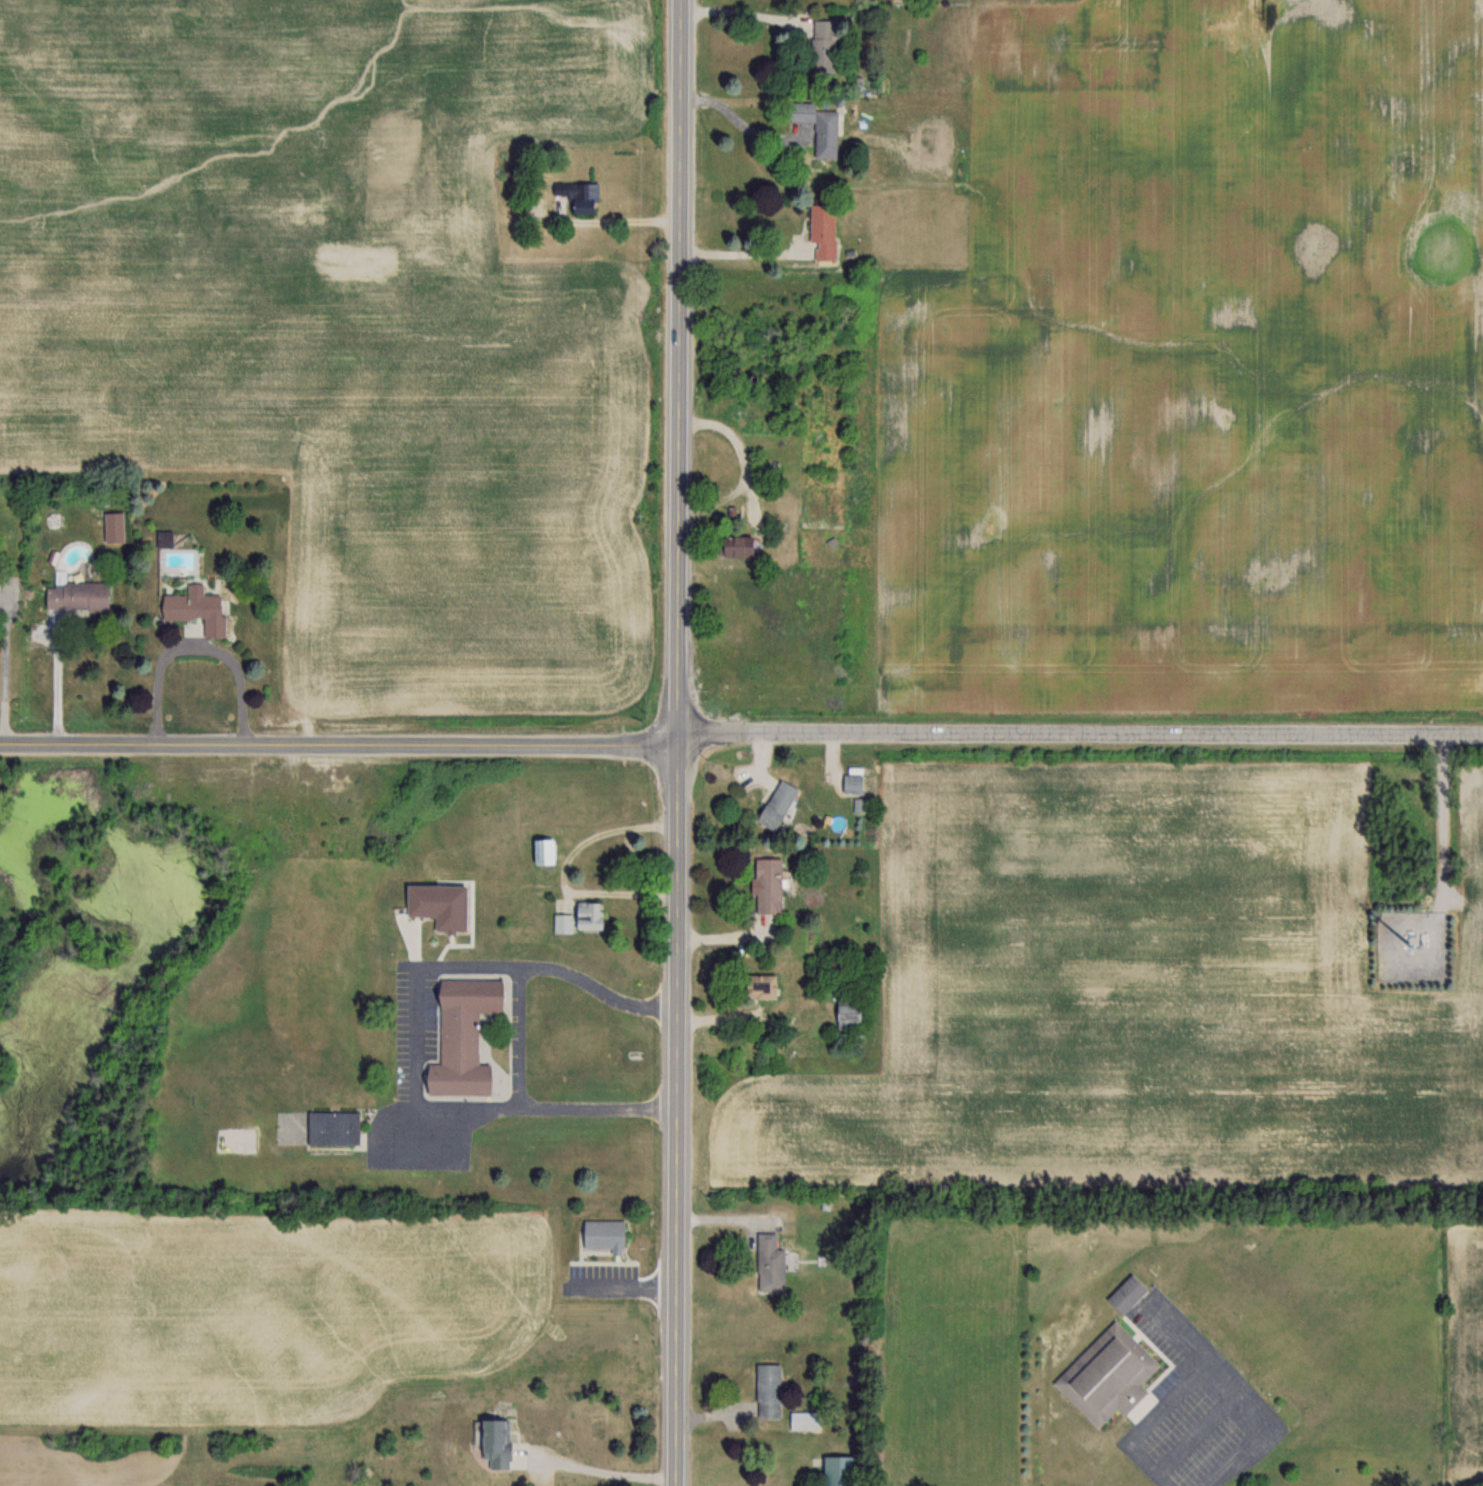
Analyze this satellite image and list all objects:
road: (740, 10)
building: (821, 46)
road: (738, 124)
building: (815, 125)
building: (577, 195)
road: (619, 221)
building: (820, 229)
road: (740, 240)
road: (681, 369)
building: (734, 545)
building: (75, 595)
building: (195, 608)
road: (189, 644)
road: (59, 680)
road: (1081, 735)
road: (340, 745)
building: (850, 783)
building: (775, 804)
building: (541, 850)
building: (767, 885)
building: (435, 905)
building: (577, 918)
building: (758, 985)
building: (847, 1012)
road: (509, 1019)
building: (460, 1038)
road: (678, 1113)
building: (332, 1128)
building: (602, 1235)
building: (768, 1263)
building: (1125, 1294)
road: (1210, 1360)
building: (1106, 1375)
building: (767, 1390)
building: (805, 1419)
building: (492, 1443)
road: (598, 1471)
building: (835, 1471)

